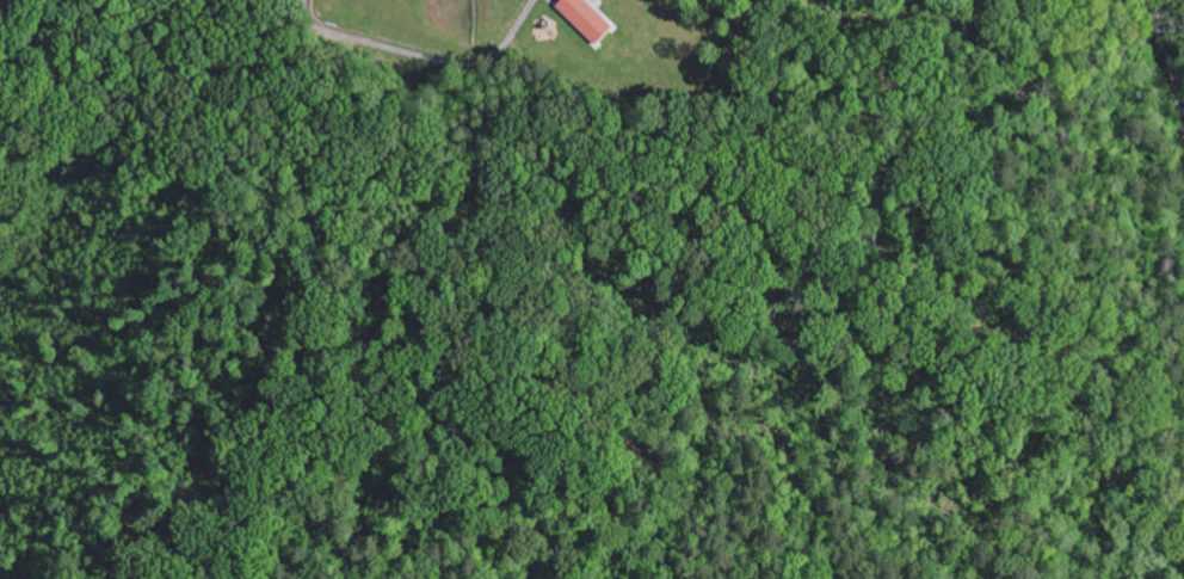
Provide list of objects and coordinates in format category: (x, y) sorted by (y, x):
road: (6, 10)
park: (8, 11)
building: (587, 20)
park: (530, 41)
road: (426, 57)
road: (1166, 66)

